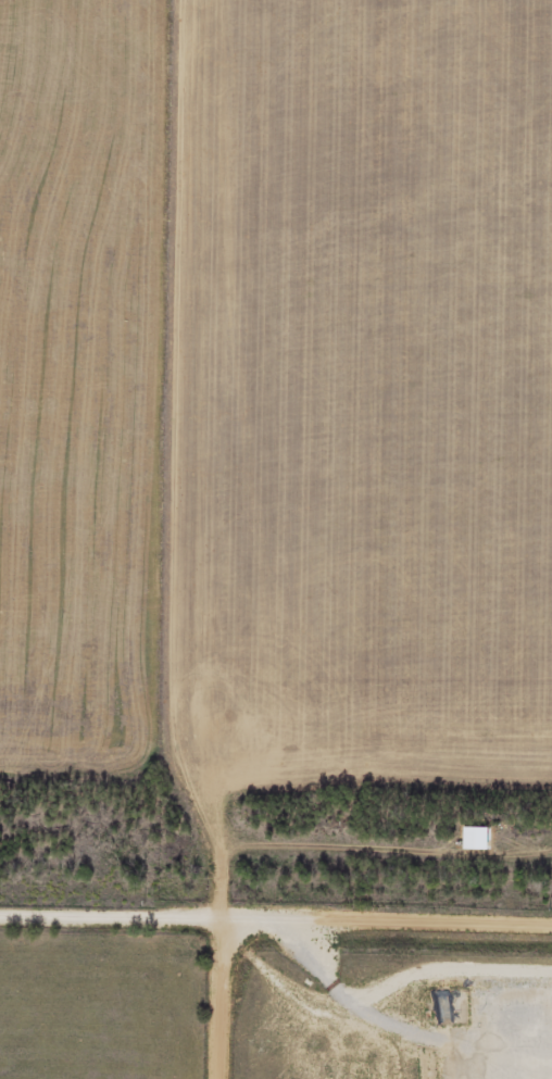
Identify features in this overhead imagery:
building: (472, 840)
road: (112, 913)
road: (387, 918)
road: (222, 998)

